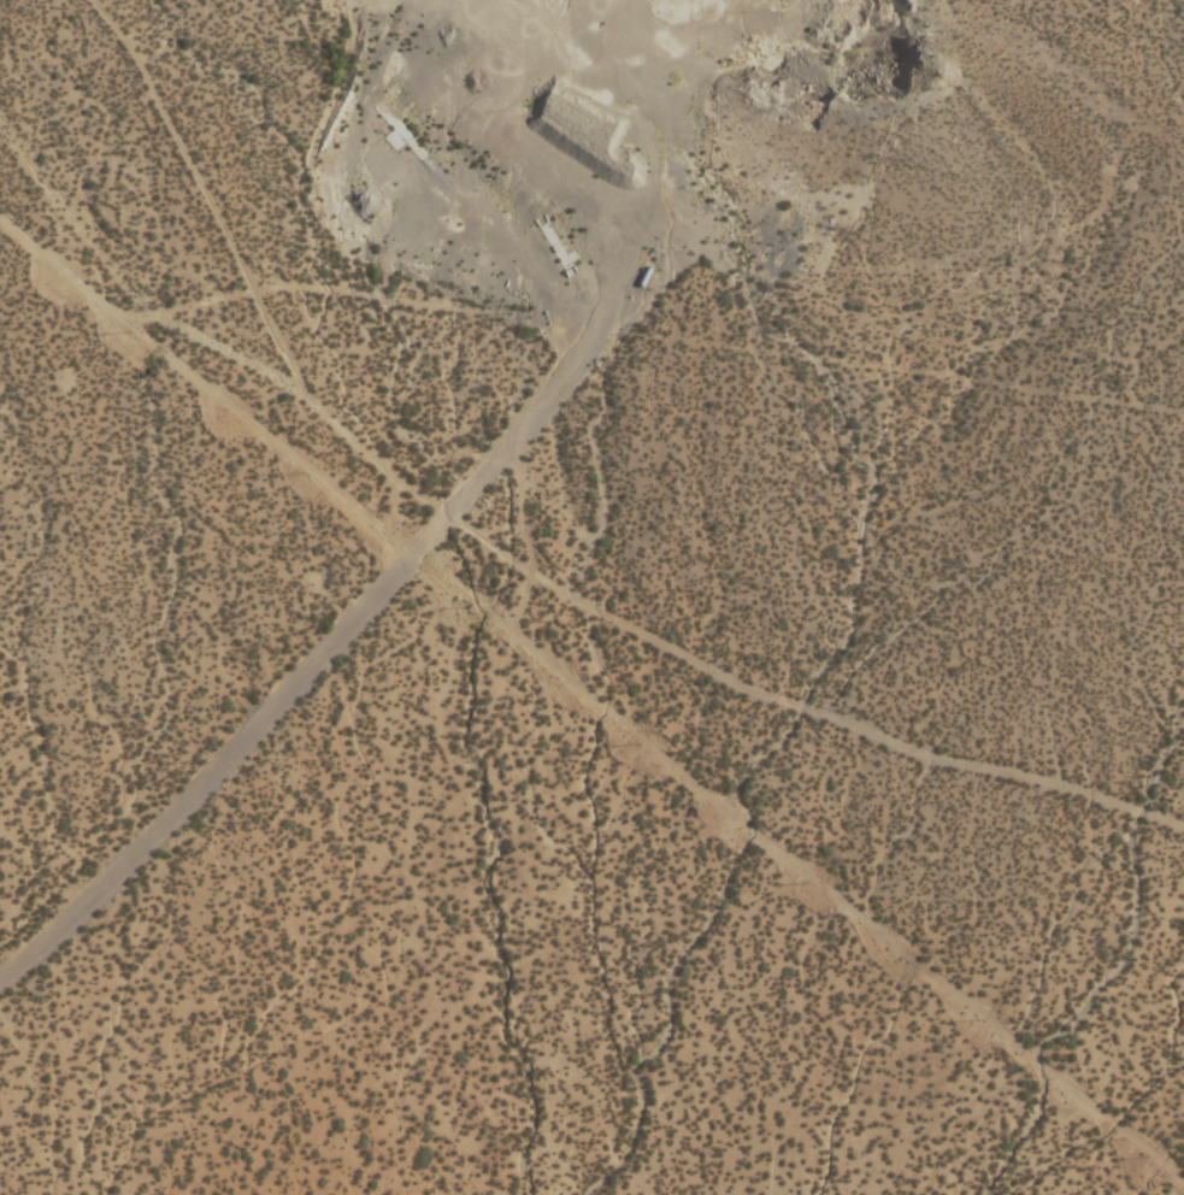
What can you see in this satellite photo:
building: (226, 929)
building: (165, 1084)
building: (60, 1181)

